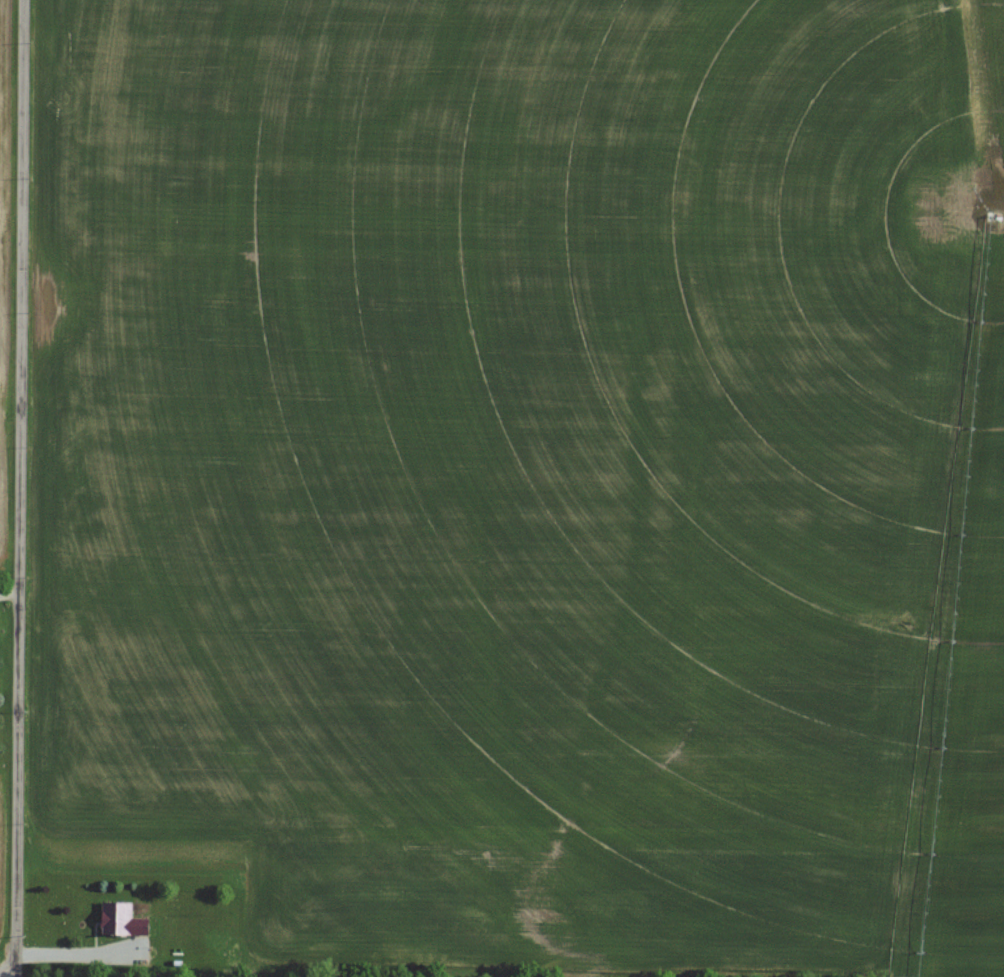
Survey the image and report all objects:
road: (20, 488)
building: (123, 920)
road: (76, 954)
road: (8, 976)

